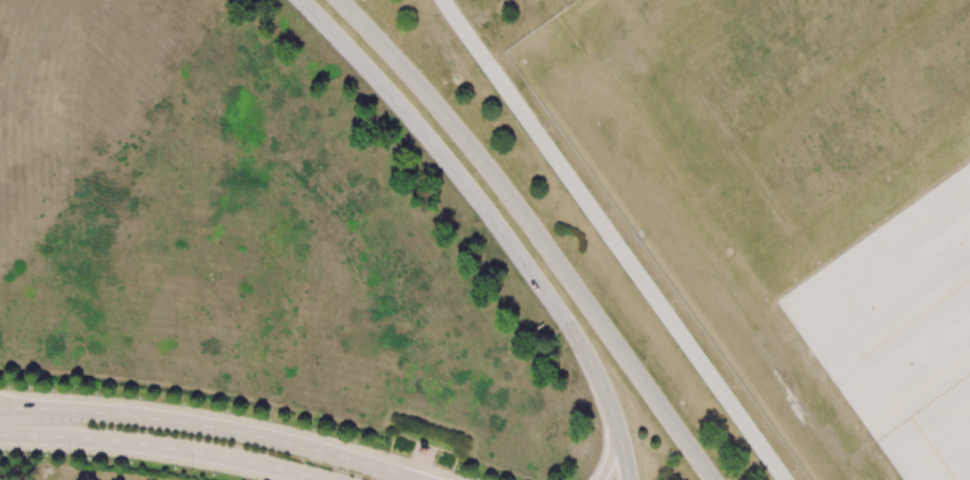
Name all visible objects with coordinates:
street lamp: (297, 20)
street lamp: (394, 39)
street lamp: (390, 118)
street lamp: (484, 141)
airport: (752, 205)
road: (493, 221)
street lamp: (476, 224)
road: (536, 232)
road: (614, 240)
street lamp: (565, 251)
airport taxiway: (914, 319)
airport apron: (900, 328)
street lamp: (555, 336)
street lamp: (643, 361)
street lamp: (75, 390)
street lamp: (206, 406)
road: (15, 408)
road: (226, 430)
street lamp: (334, 434)
street lamp: (639, 444)
road: (160, 447)
road: (612, 453)
street lamp: (68, 456)
street lamp: (191, 470)
street lamp: (459, 472)
street lamp: (727, 479)

